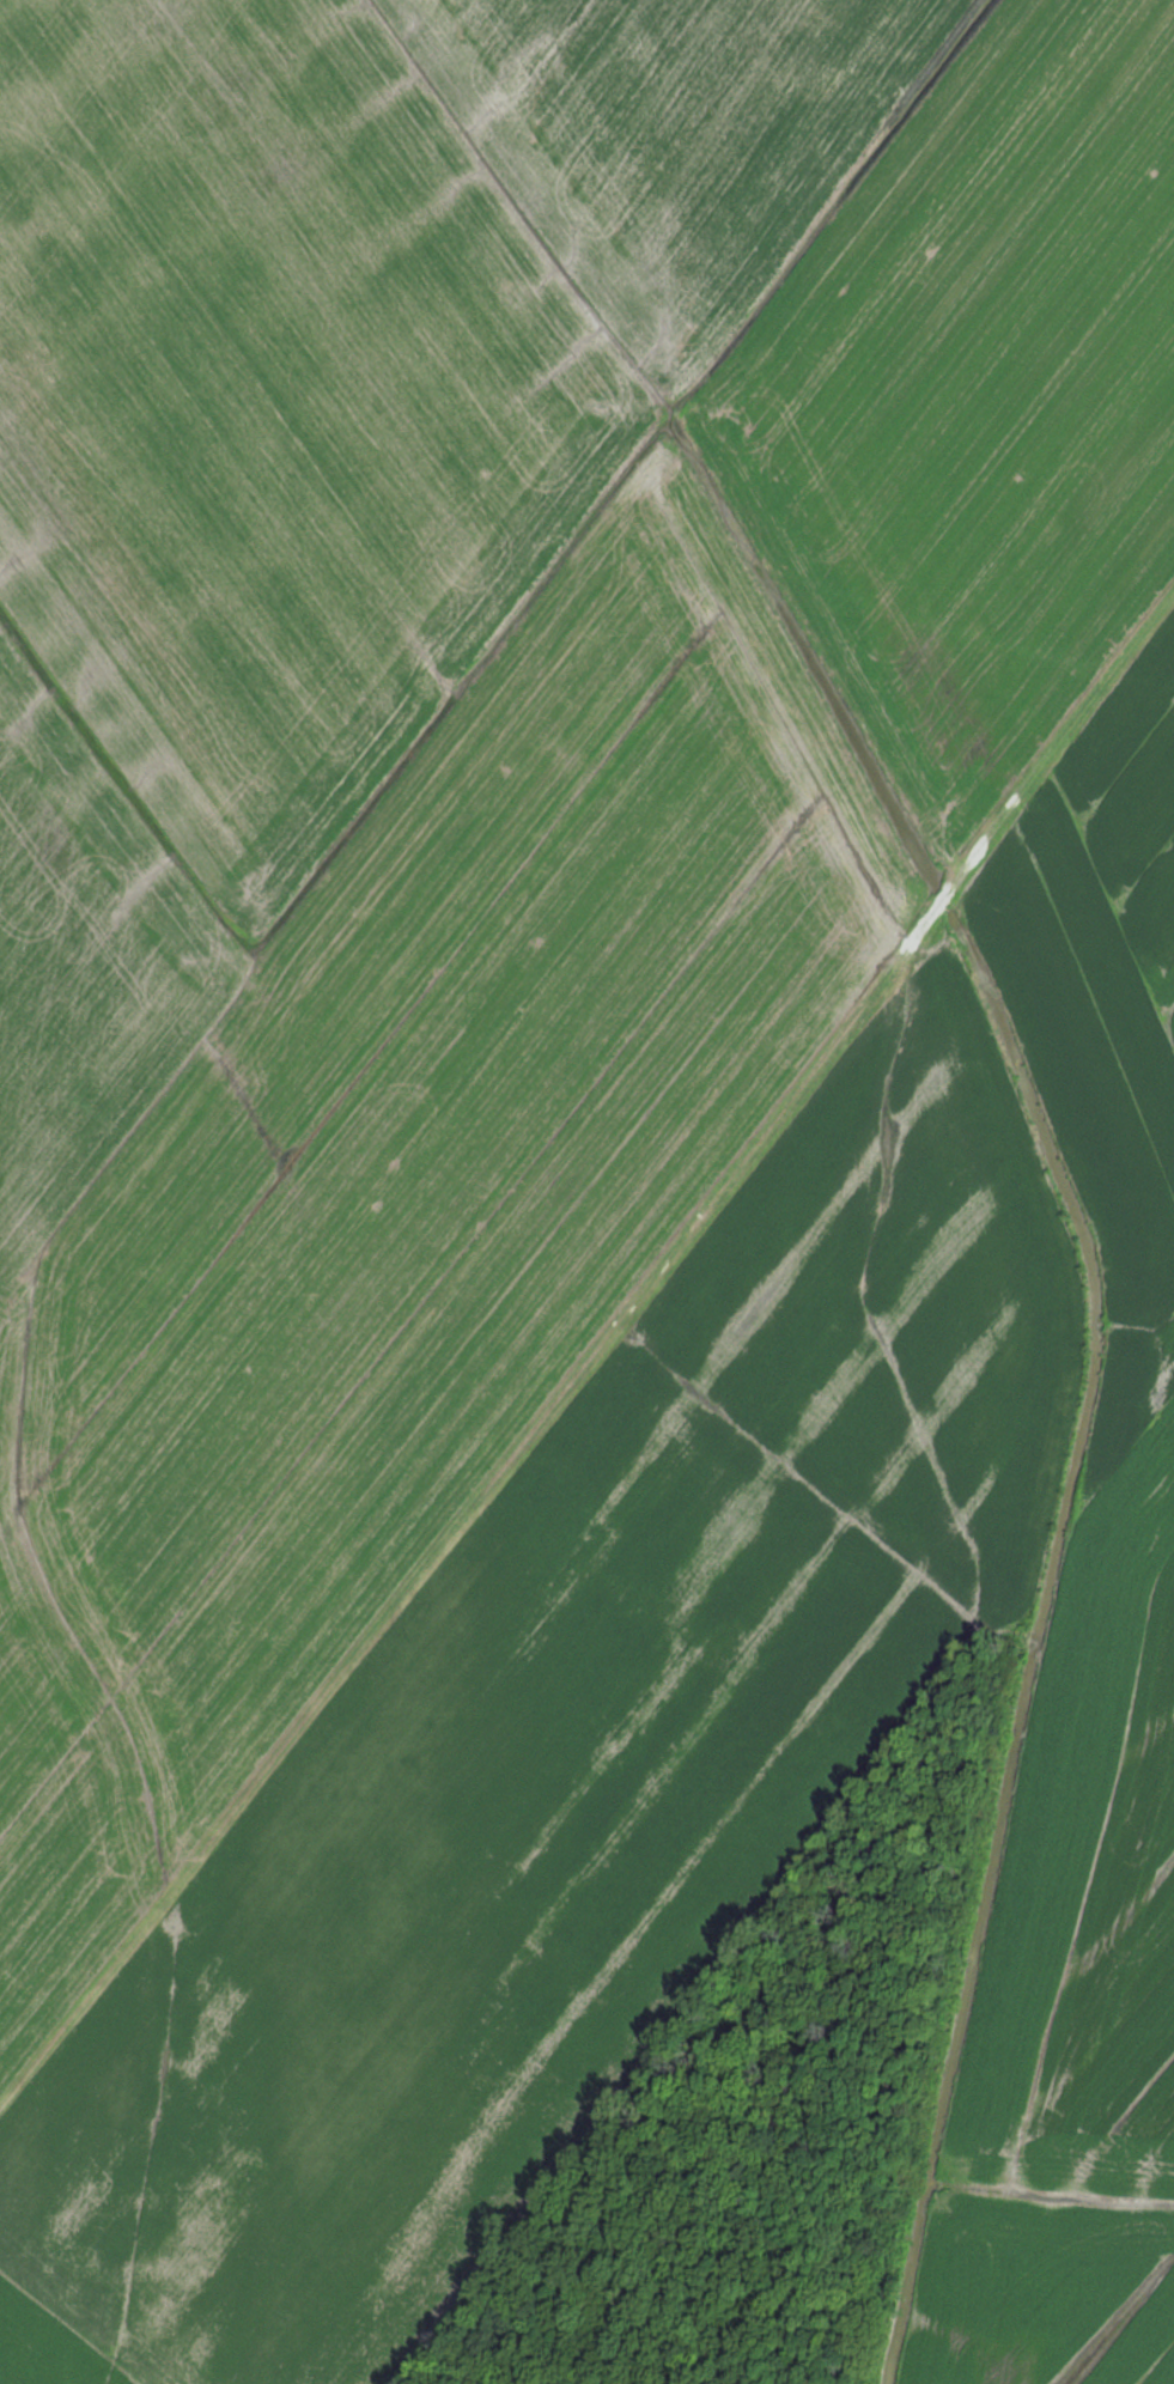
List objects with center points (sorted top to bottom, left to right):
road: (586, 1345)

